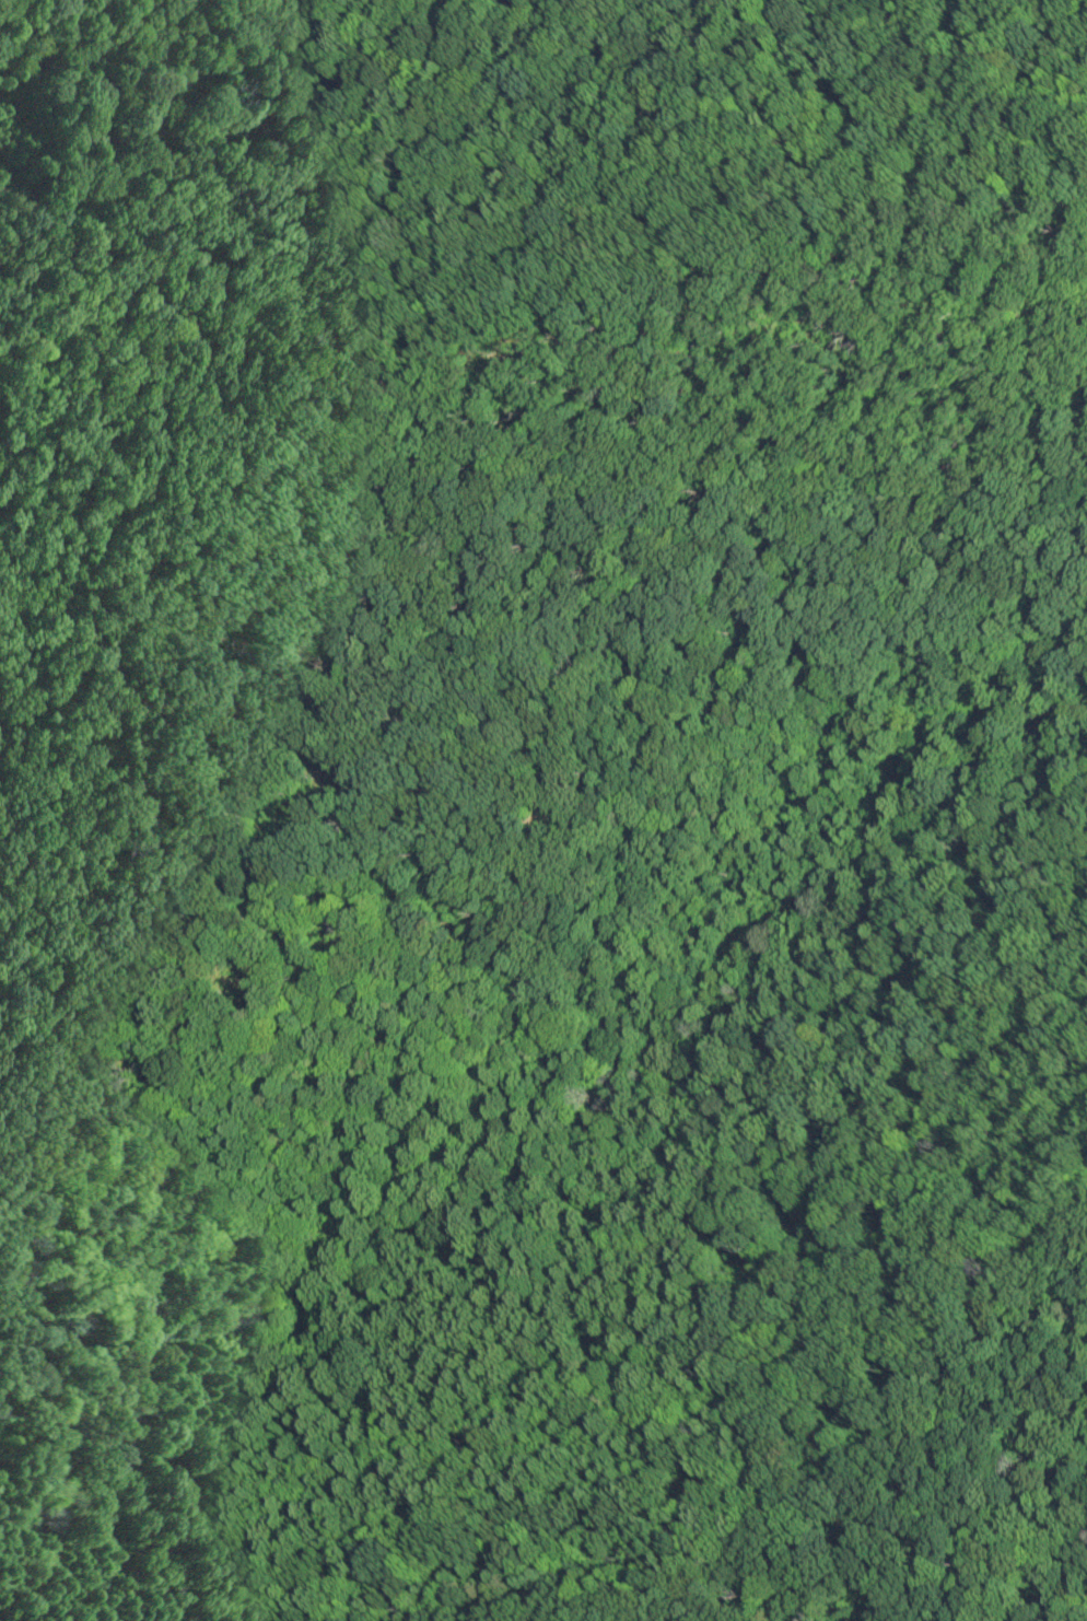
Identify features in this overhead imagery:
road: (114, 40)

